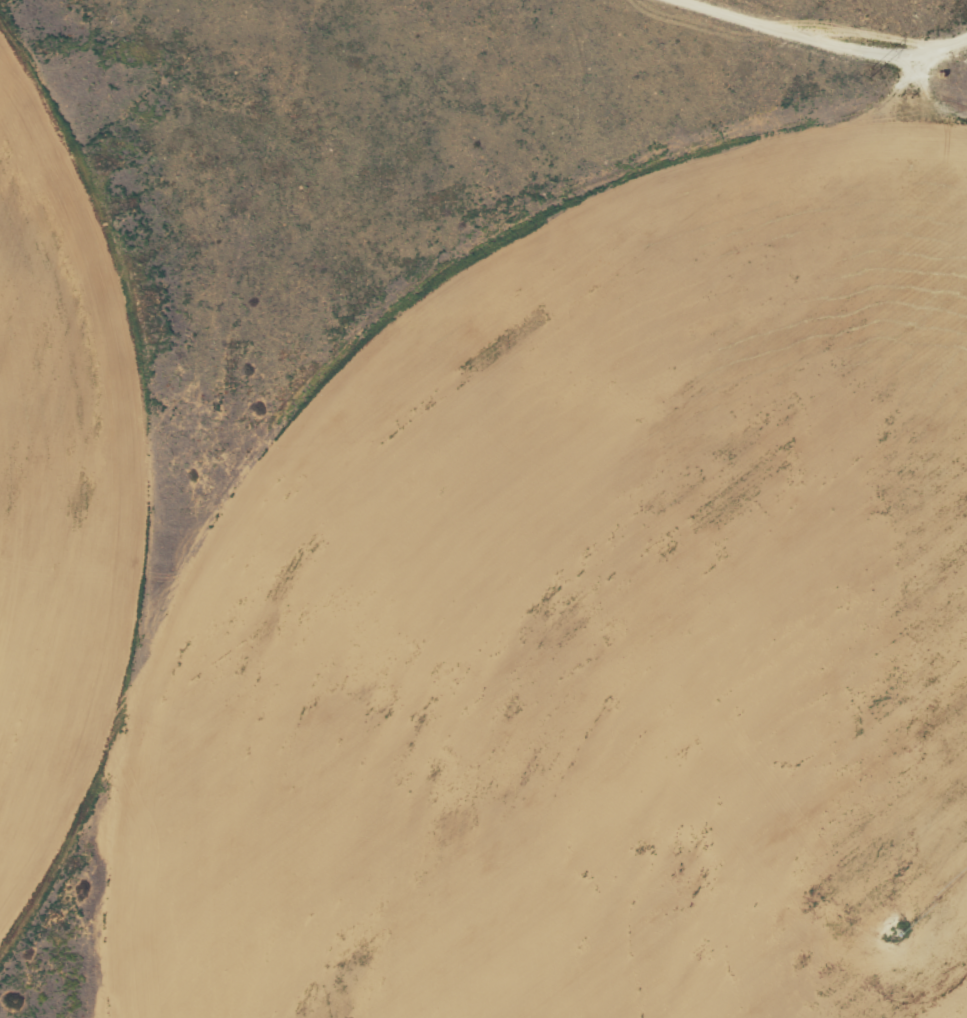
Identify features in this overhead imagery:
road: (833, 38)
power tower: (870, 74)

